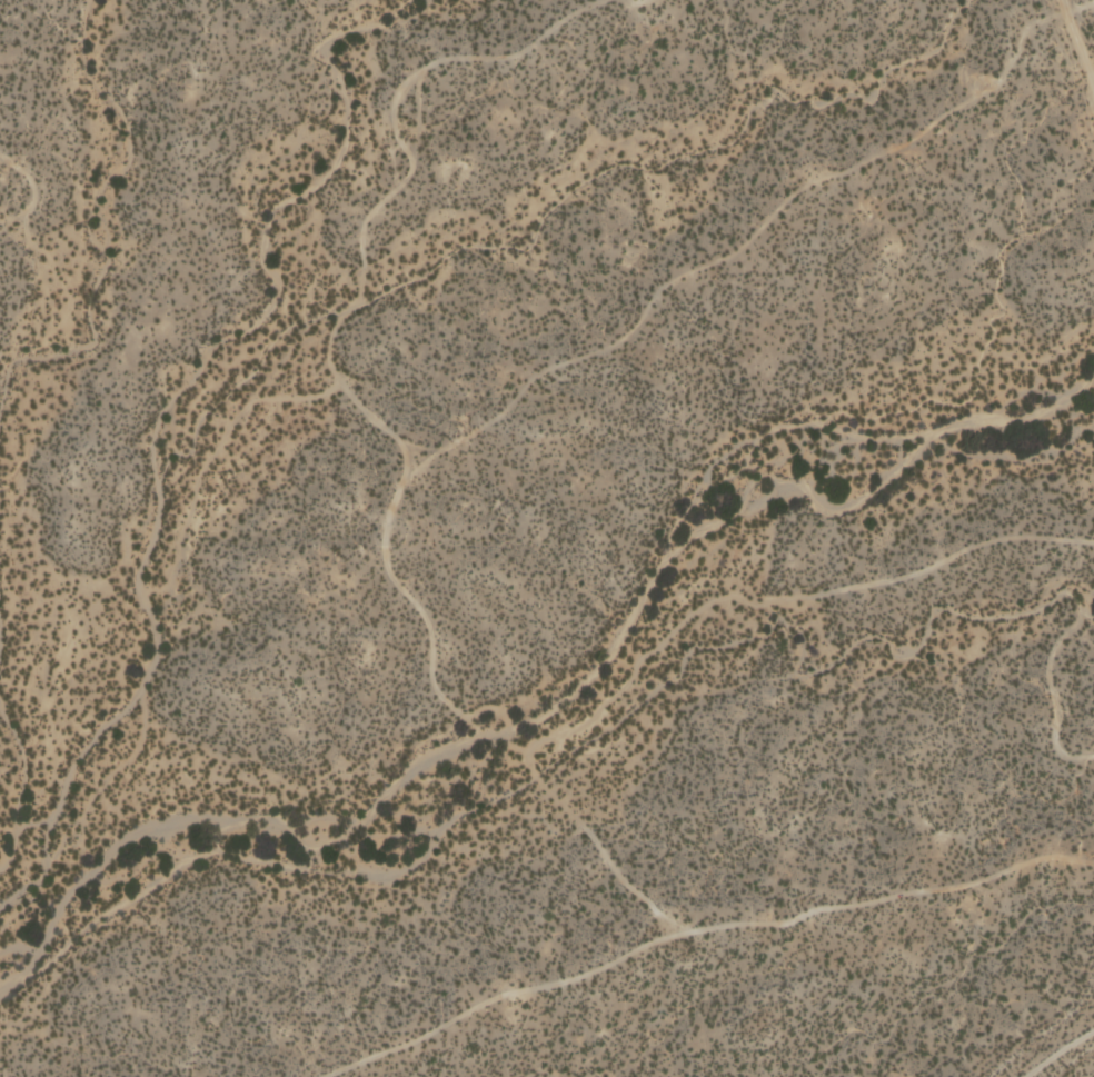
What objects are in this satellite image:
road: (1078, 47)
road: (406, 154)
road: (33, 189)
road: (736, 248)
road: (211, 451)
road: (421, 462)
road: (628, 674)
road: (1055, 1050)

